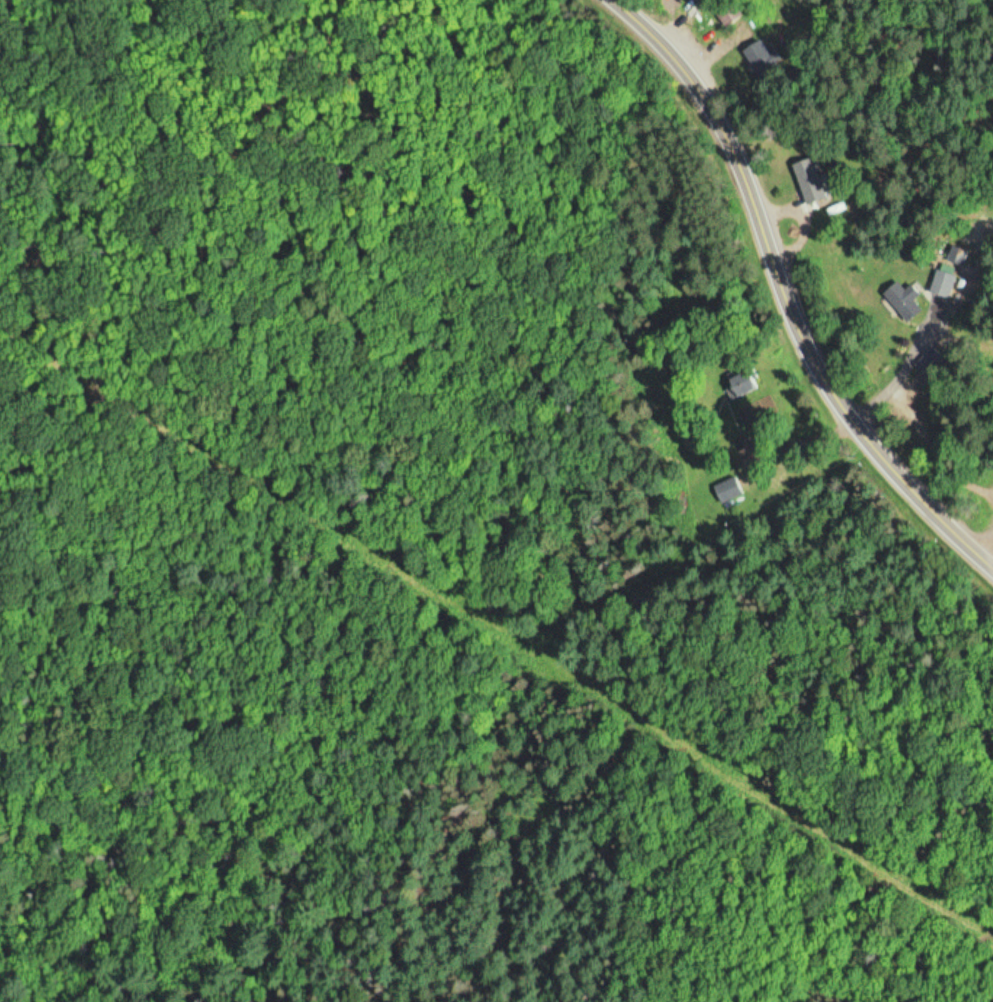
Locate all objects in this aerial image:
building: (709, 0)
building: (727, 16)
building: (763, 58)
building: (811, 180)
building: (946, 279)
road: (788, 289)
building: (905, 300)
building: (931, 362)
building: (741, 378)
building: (729, 489)
road: (838, 877)

